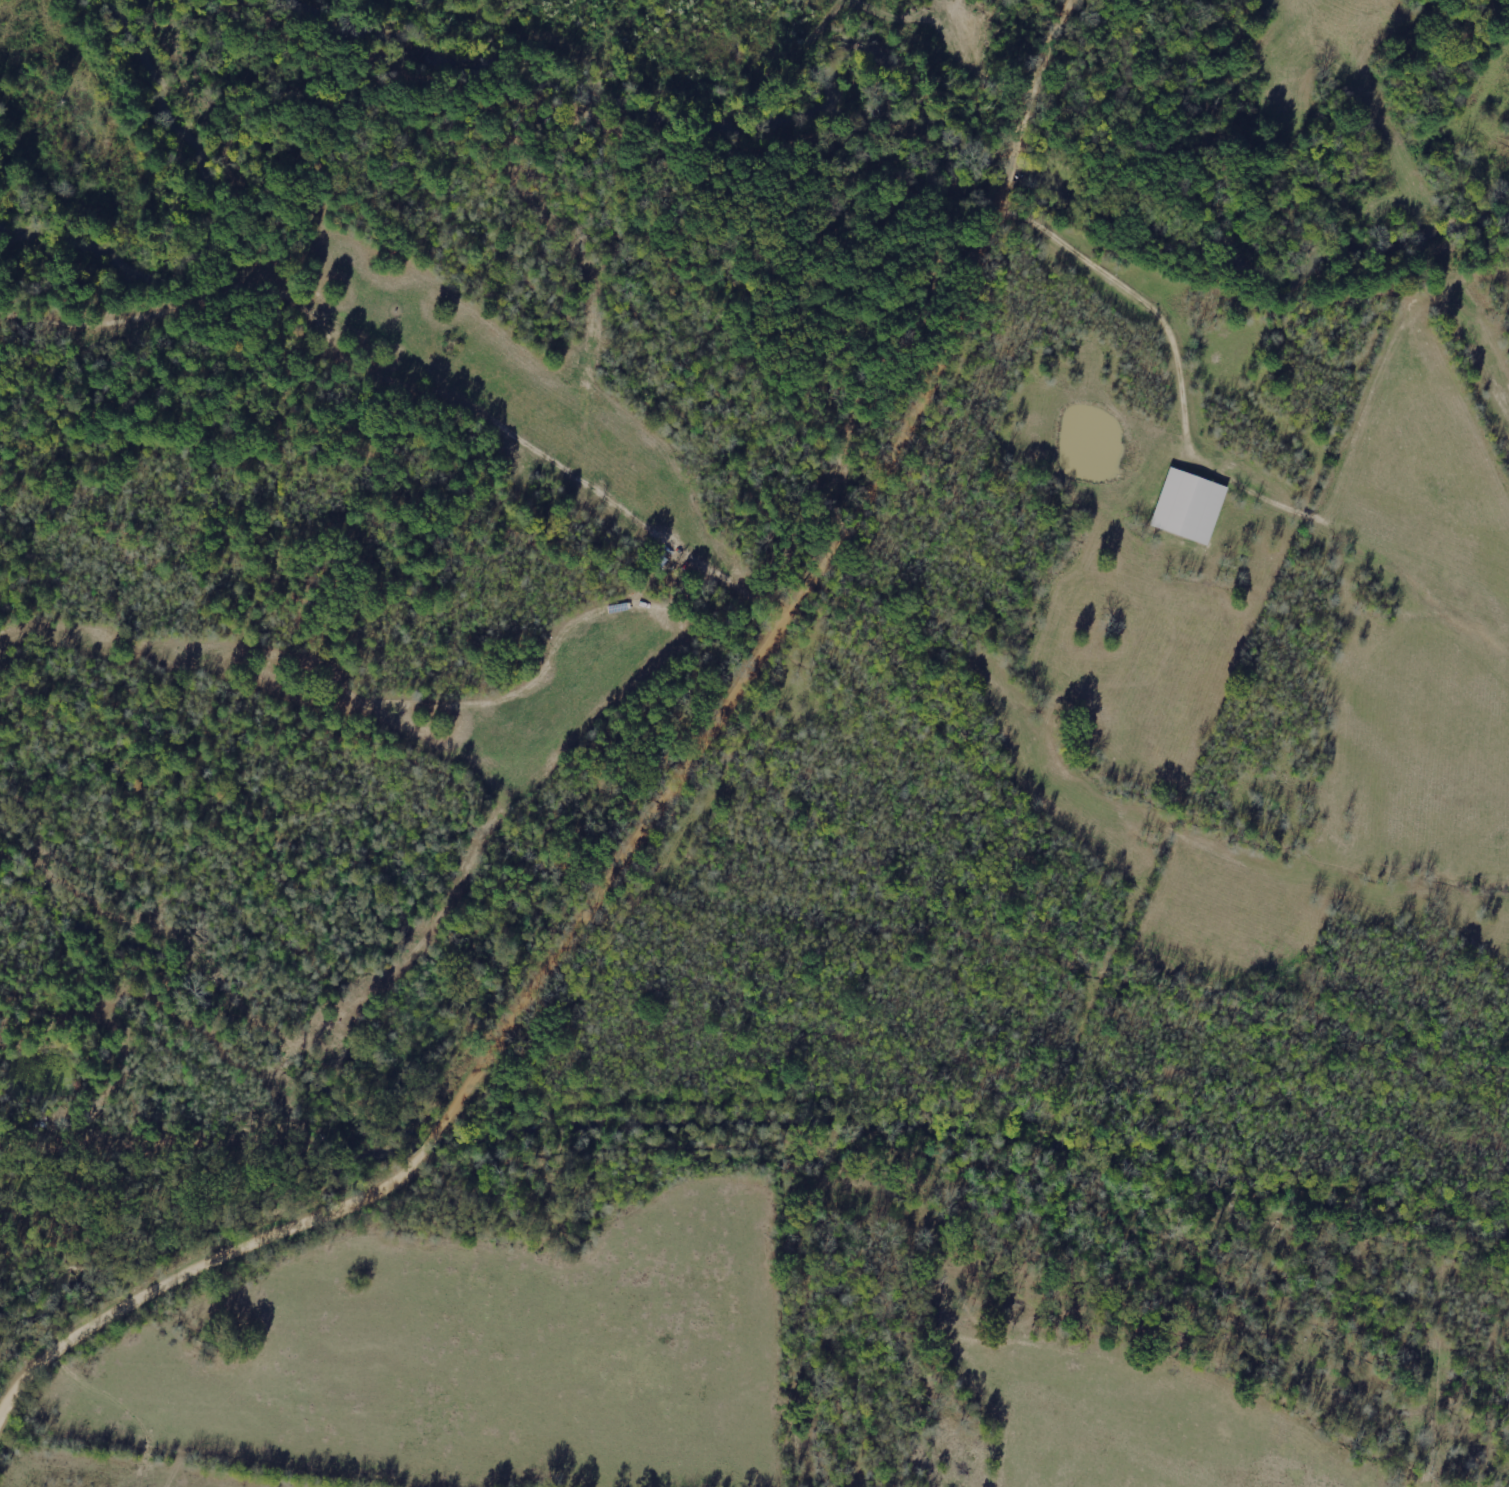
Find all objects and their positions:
building: (1191, 505)
road: (662, 816)

